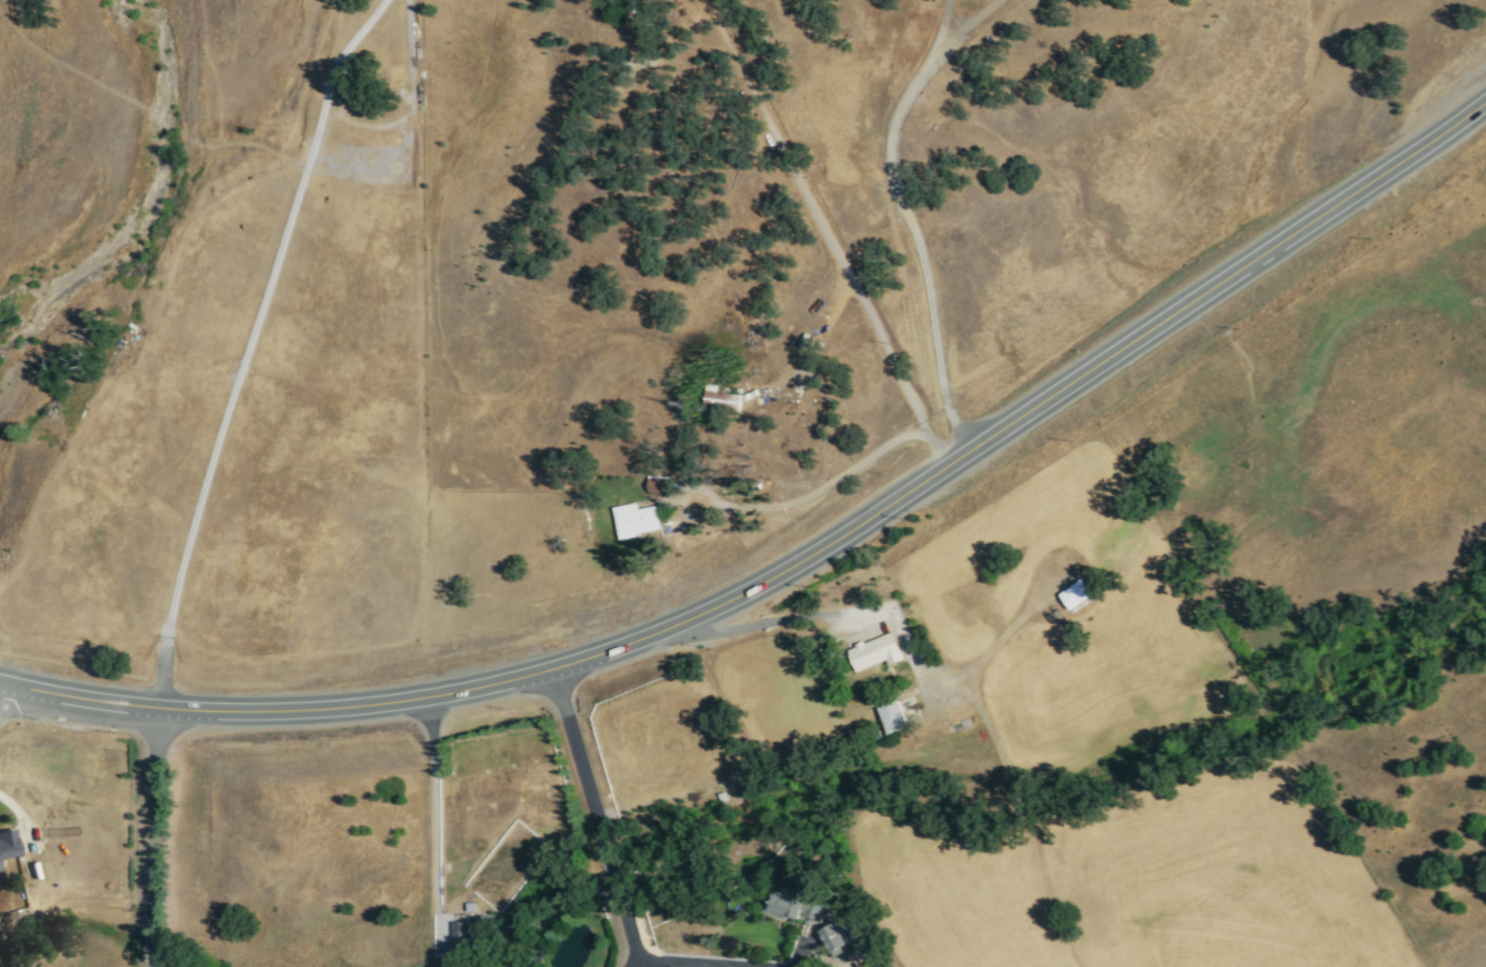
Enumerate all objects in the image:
road: (908, 221)
road: (832, 230)
road: (248, 343)
road: (807, 352)
building: (723, 399)
building: (658, 483)
road: (780, 504)
building: (635, 518)
road: (799, 559)
building: (1077, 593)
road: (817, 614)
road: (1002, 635)
building: (878, 650)
road: (17, 703)
building: (895, 717)
road: (20, 816)
road: (595, 817)
road: (1023, 817)
road: (435, 825)
road: (156, 835)
building: (8, 843)
building: (0, 874)
building: (795, 906)
building: (464, 934)
building: (838, 936)
road: (799, 945)
road: (698, 962)
building: (873, 966)

